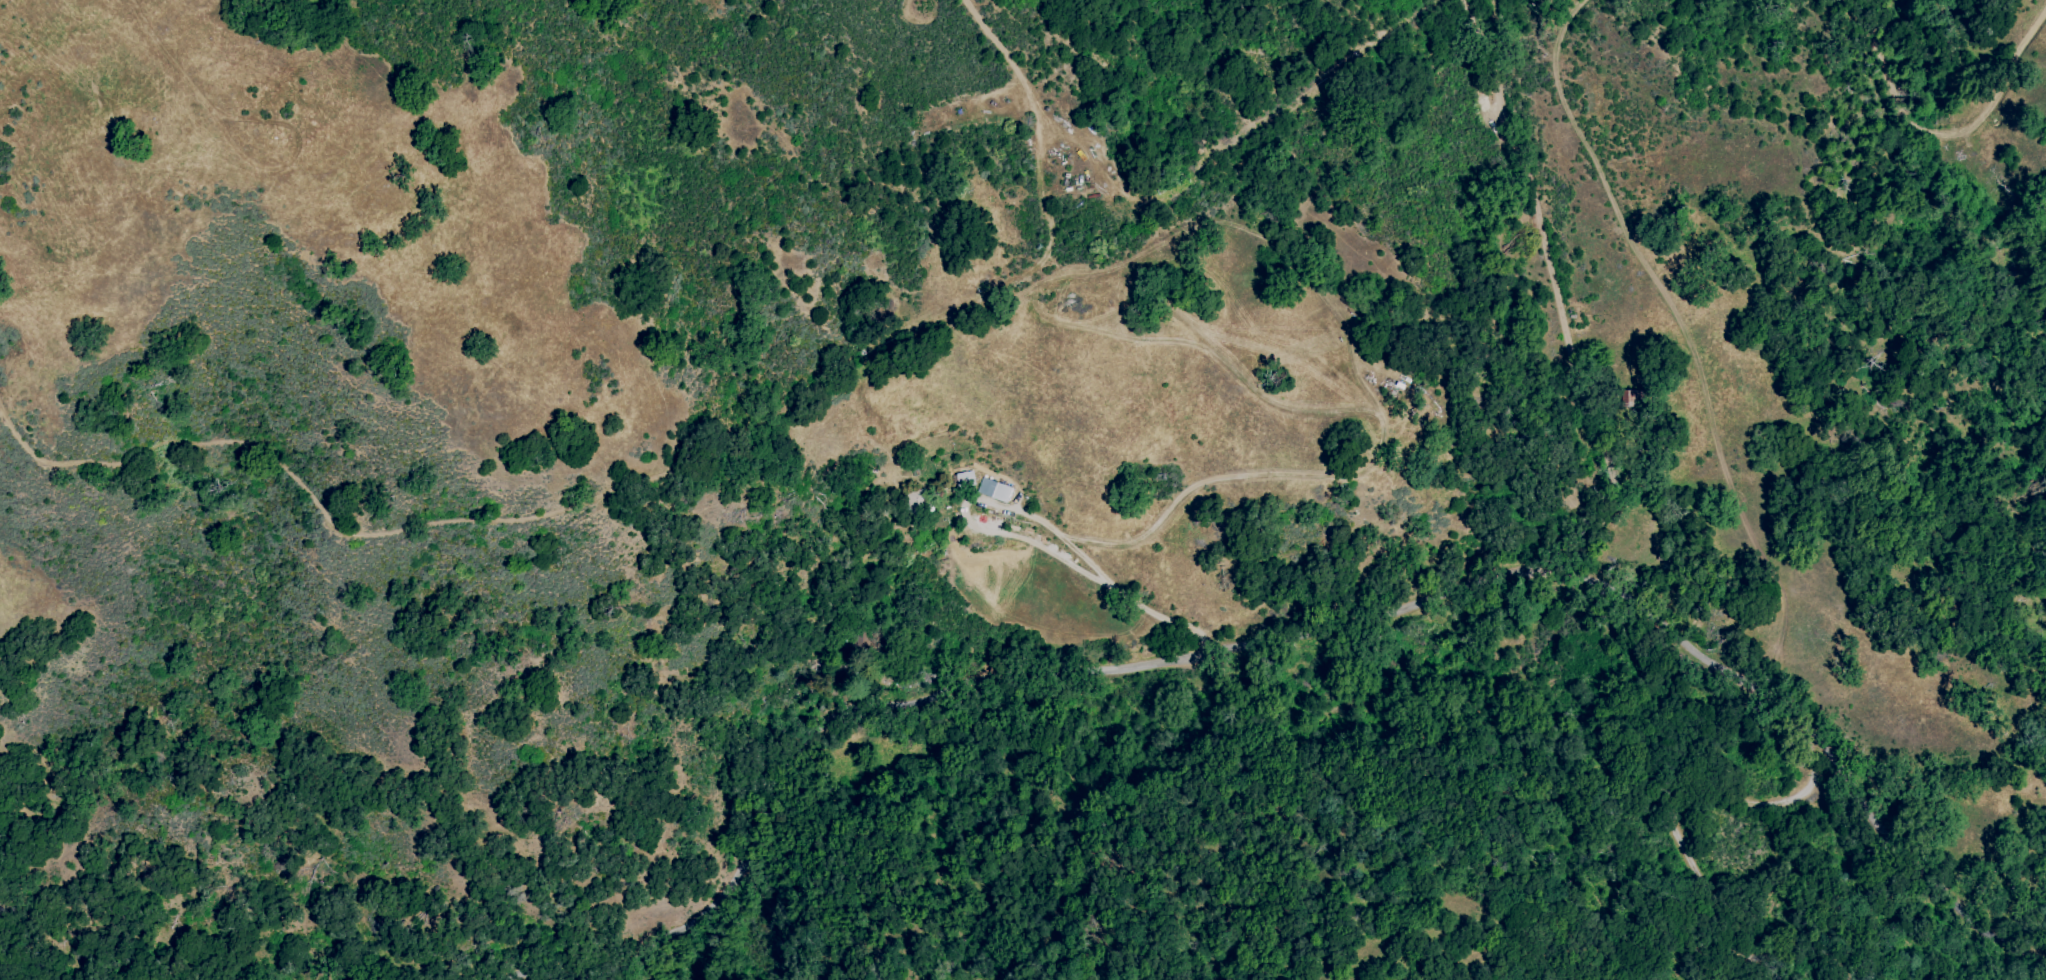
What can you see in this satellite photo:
road: (1937, 133)
road: (1685, 339)
building: (994, 489)
road: (1020, 512)
road: (1359, 619)

